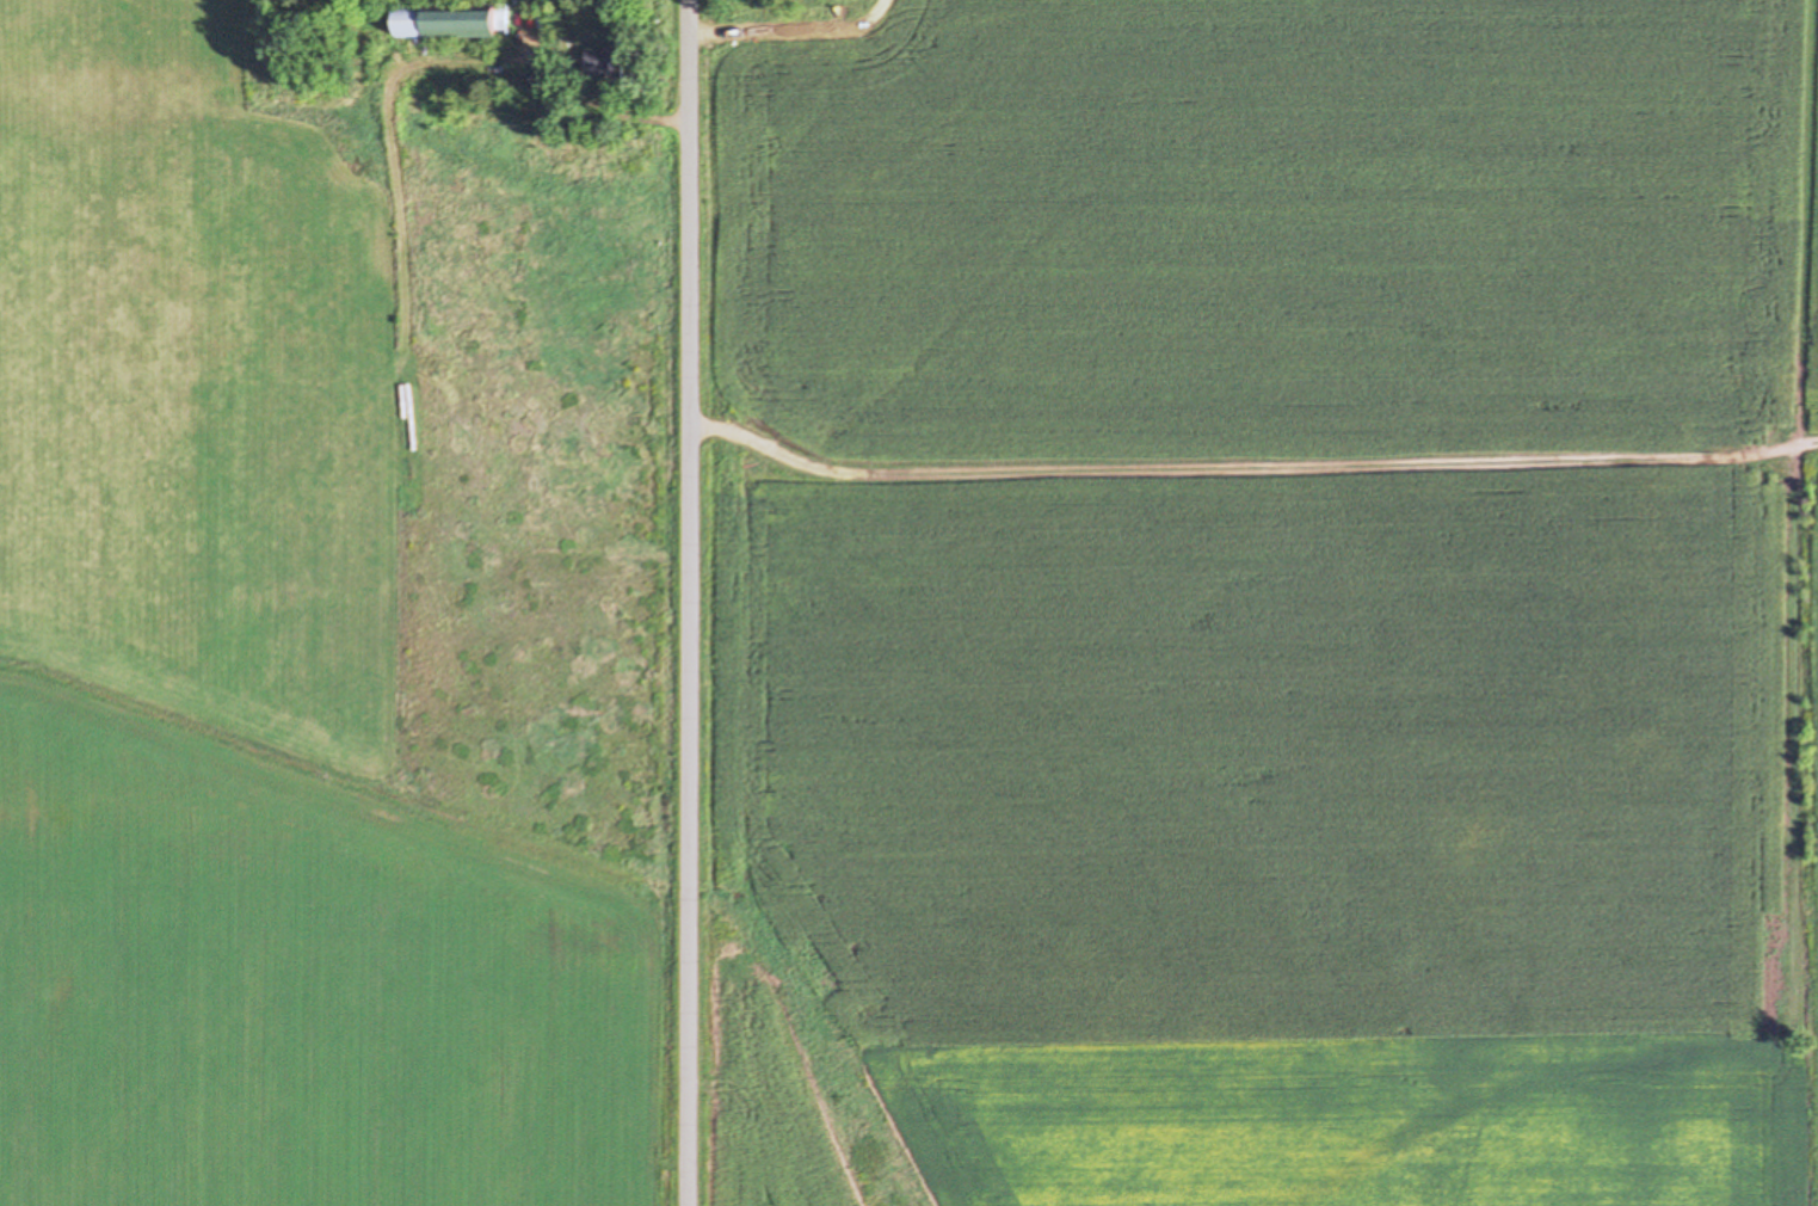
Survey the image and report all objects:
building: (455, 19)
building: (610, 61)
road: (688, 603)

